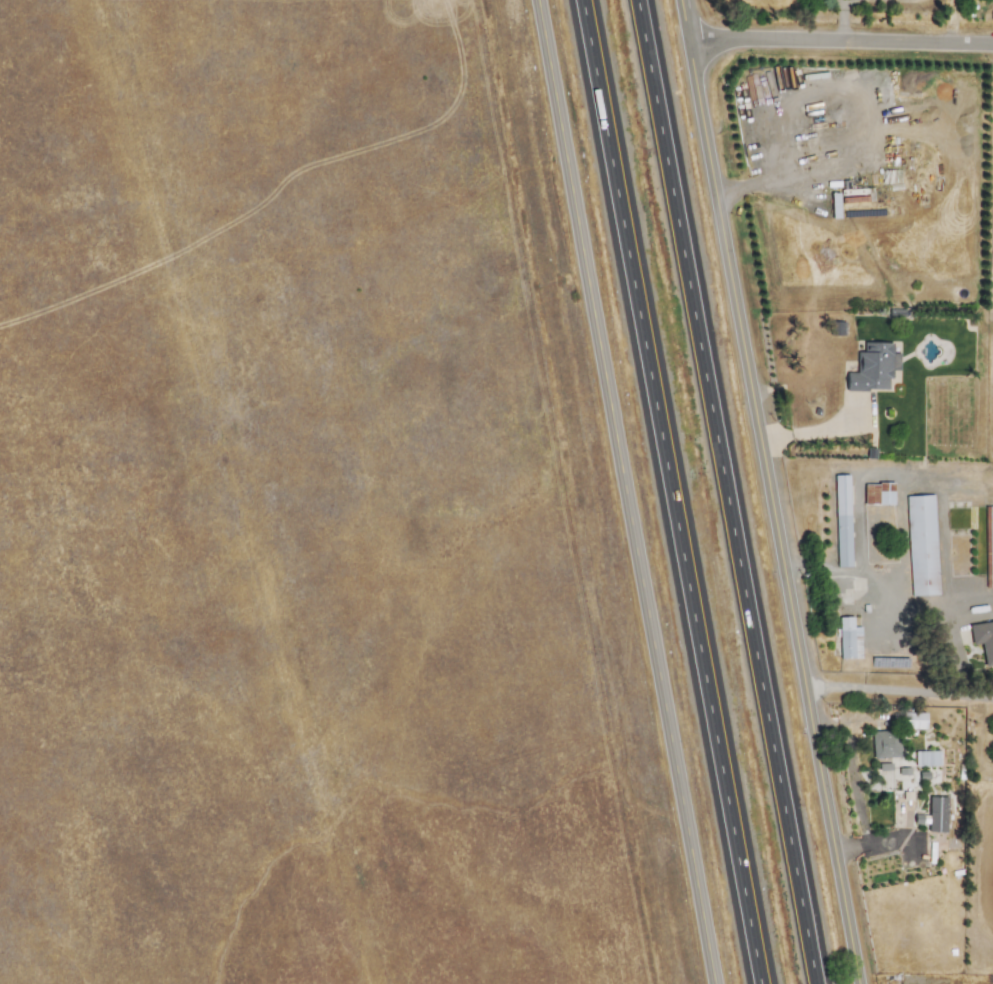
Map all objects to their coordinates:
road: (839, 38)
road: (848, 91)
building: (872, 367)
road: (819, 434)
road: (862, 478)
road: (724, 491)
railway: (582, 492)
road: (619, 492)
road: (669, 492)
road: (768, 492)
building: (877, 493)
building: (842, 520)
building: (921, 544)
building: (988, 545)
road: (891, 600)
building: (848, 638)
building: (983, 639)
road: (900, 688)
building: (913, 720)
building: (885, 743)
building: (926, 757)
building: (885, 771)
road: (854, 779)
building: (936, 813)

